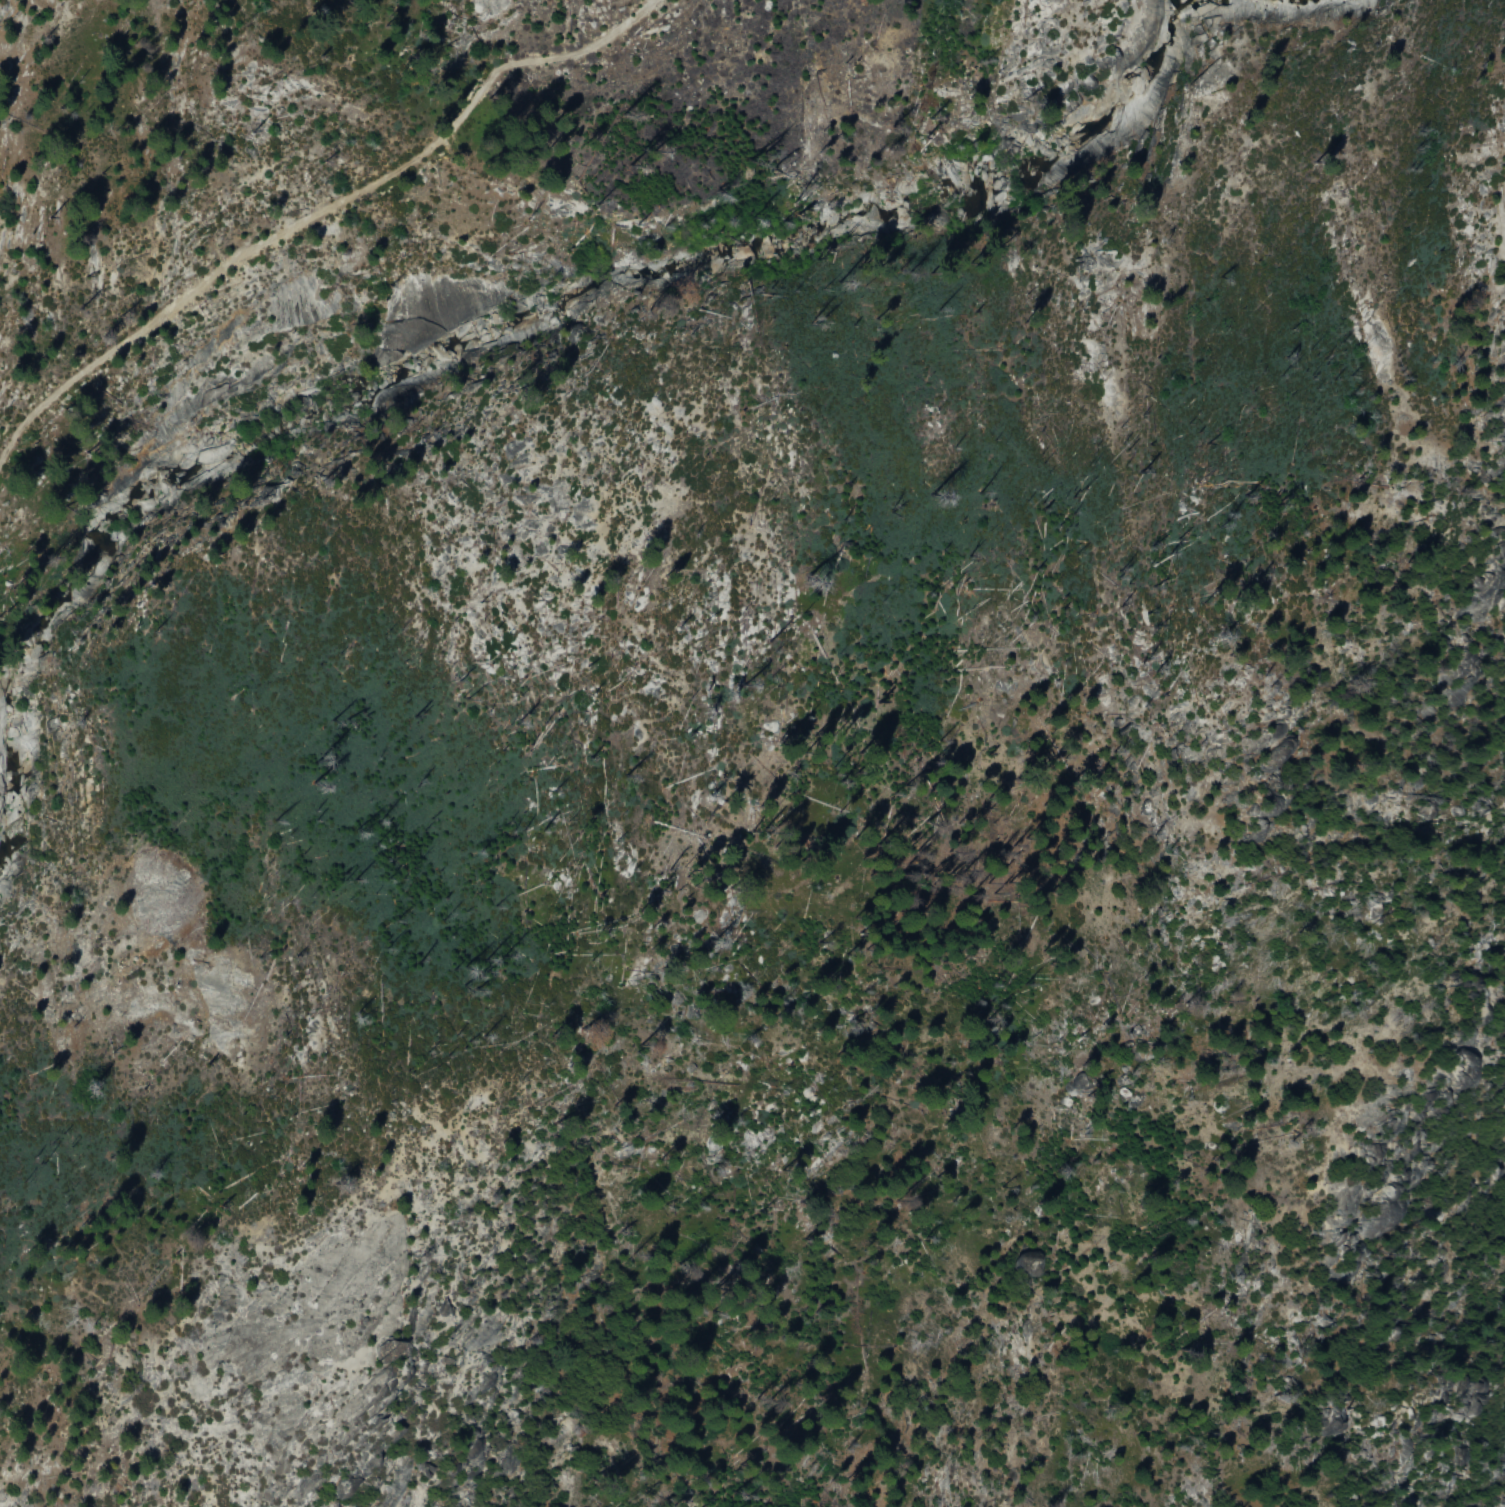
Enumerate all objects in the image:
road: (1488, 196)
river: (577, 306)

